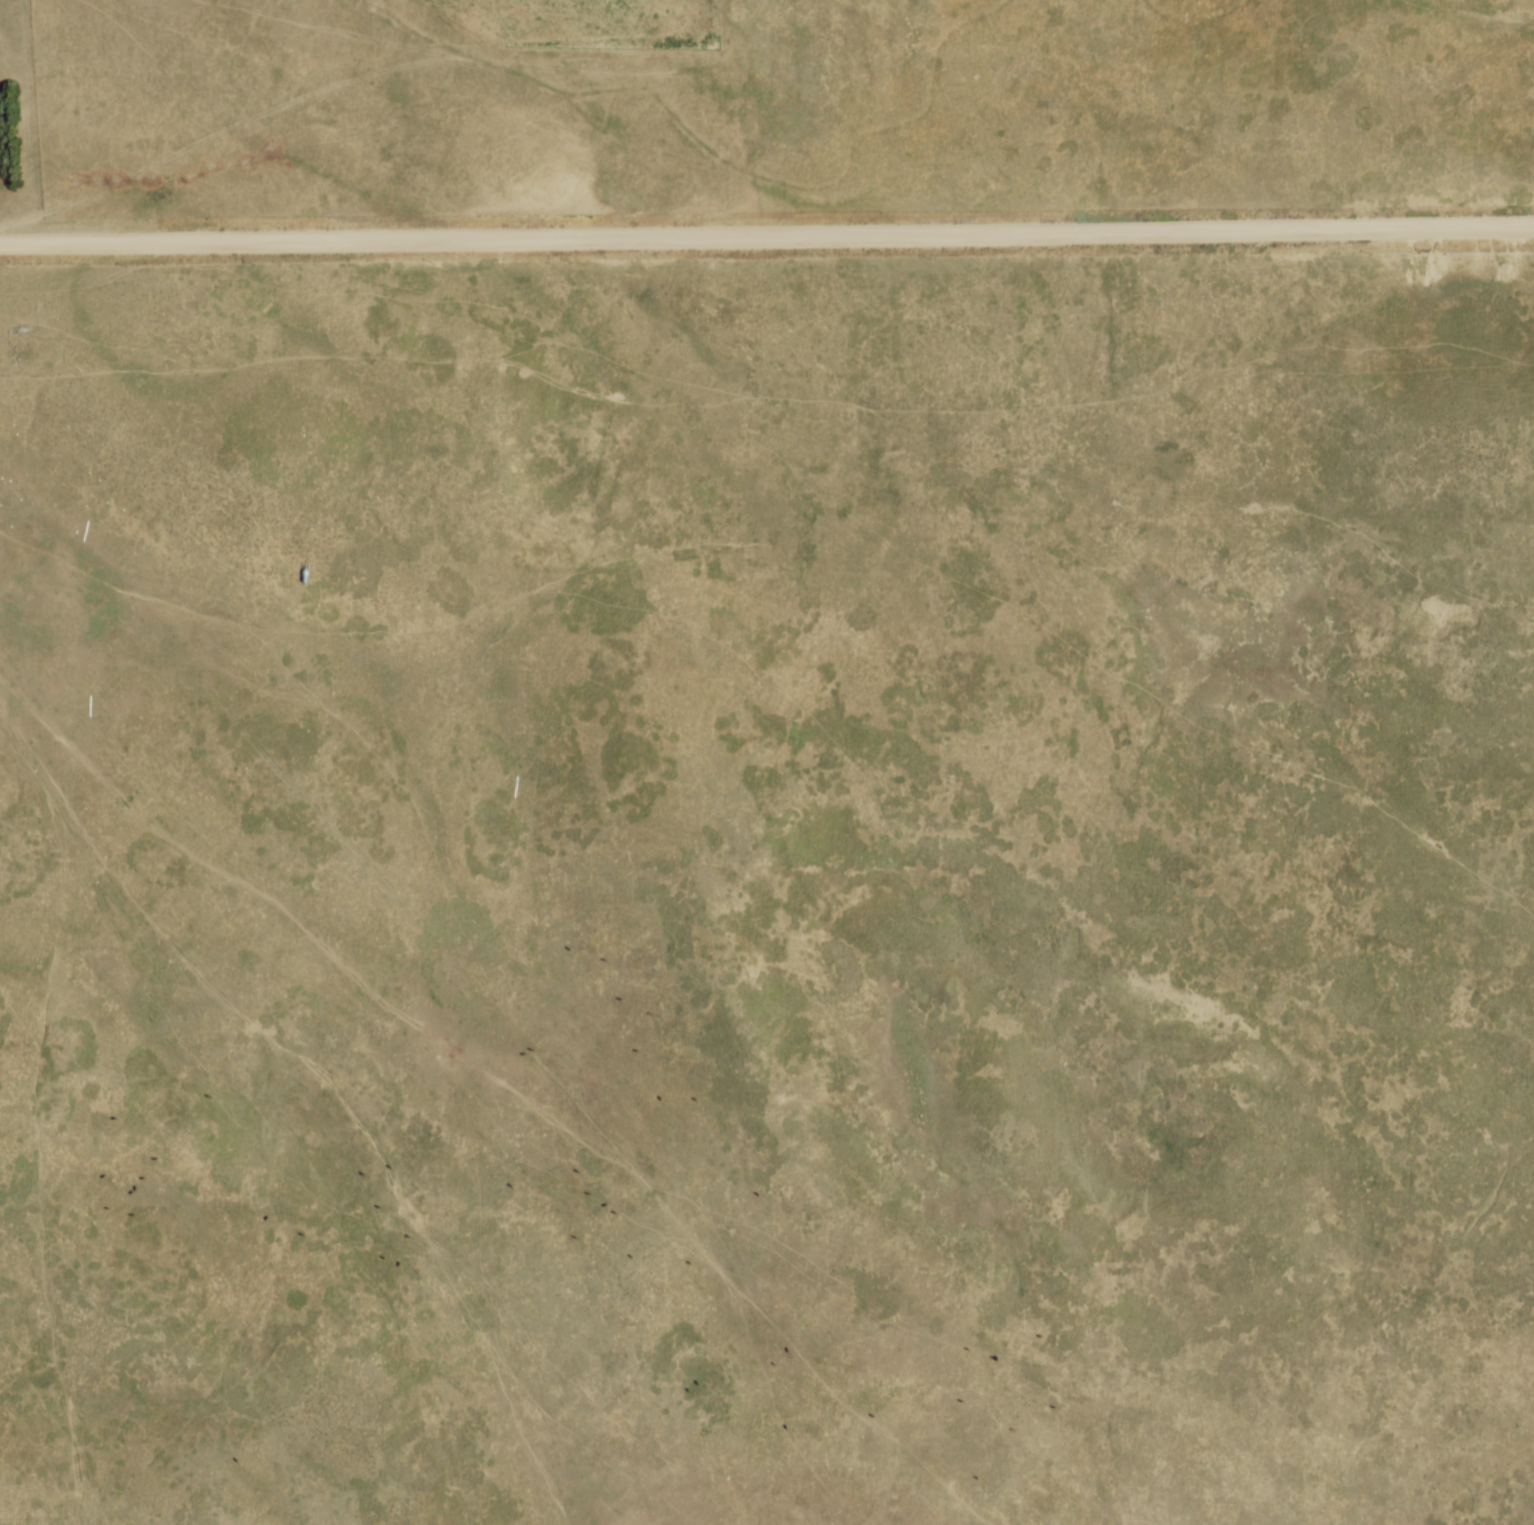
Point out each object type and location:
road: (766, 239)

